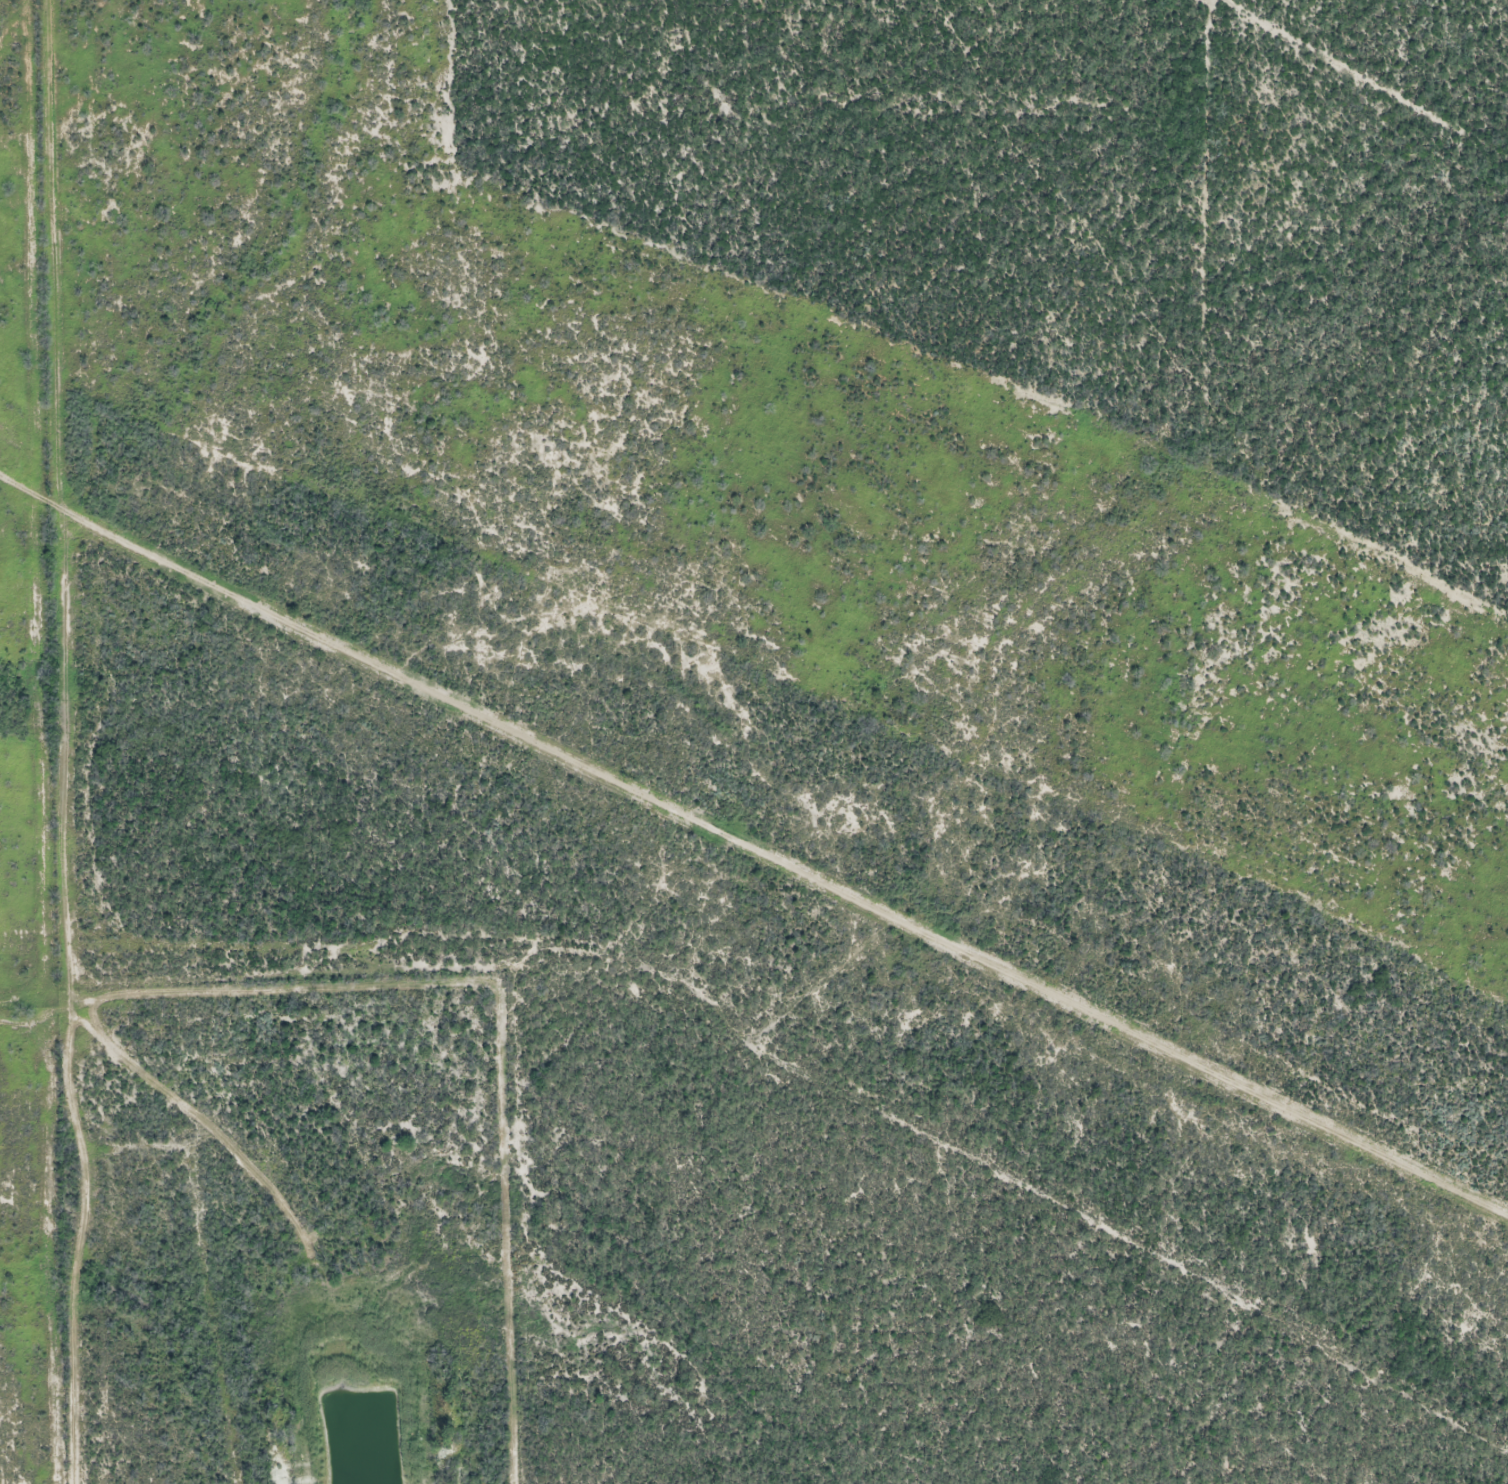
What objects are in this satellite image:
road: (754, 847)

